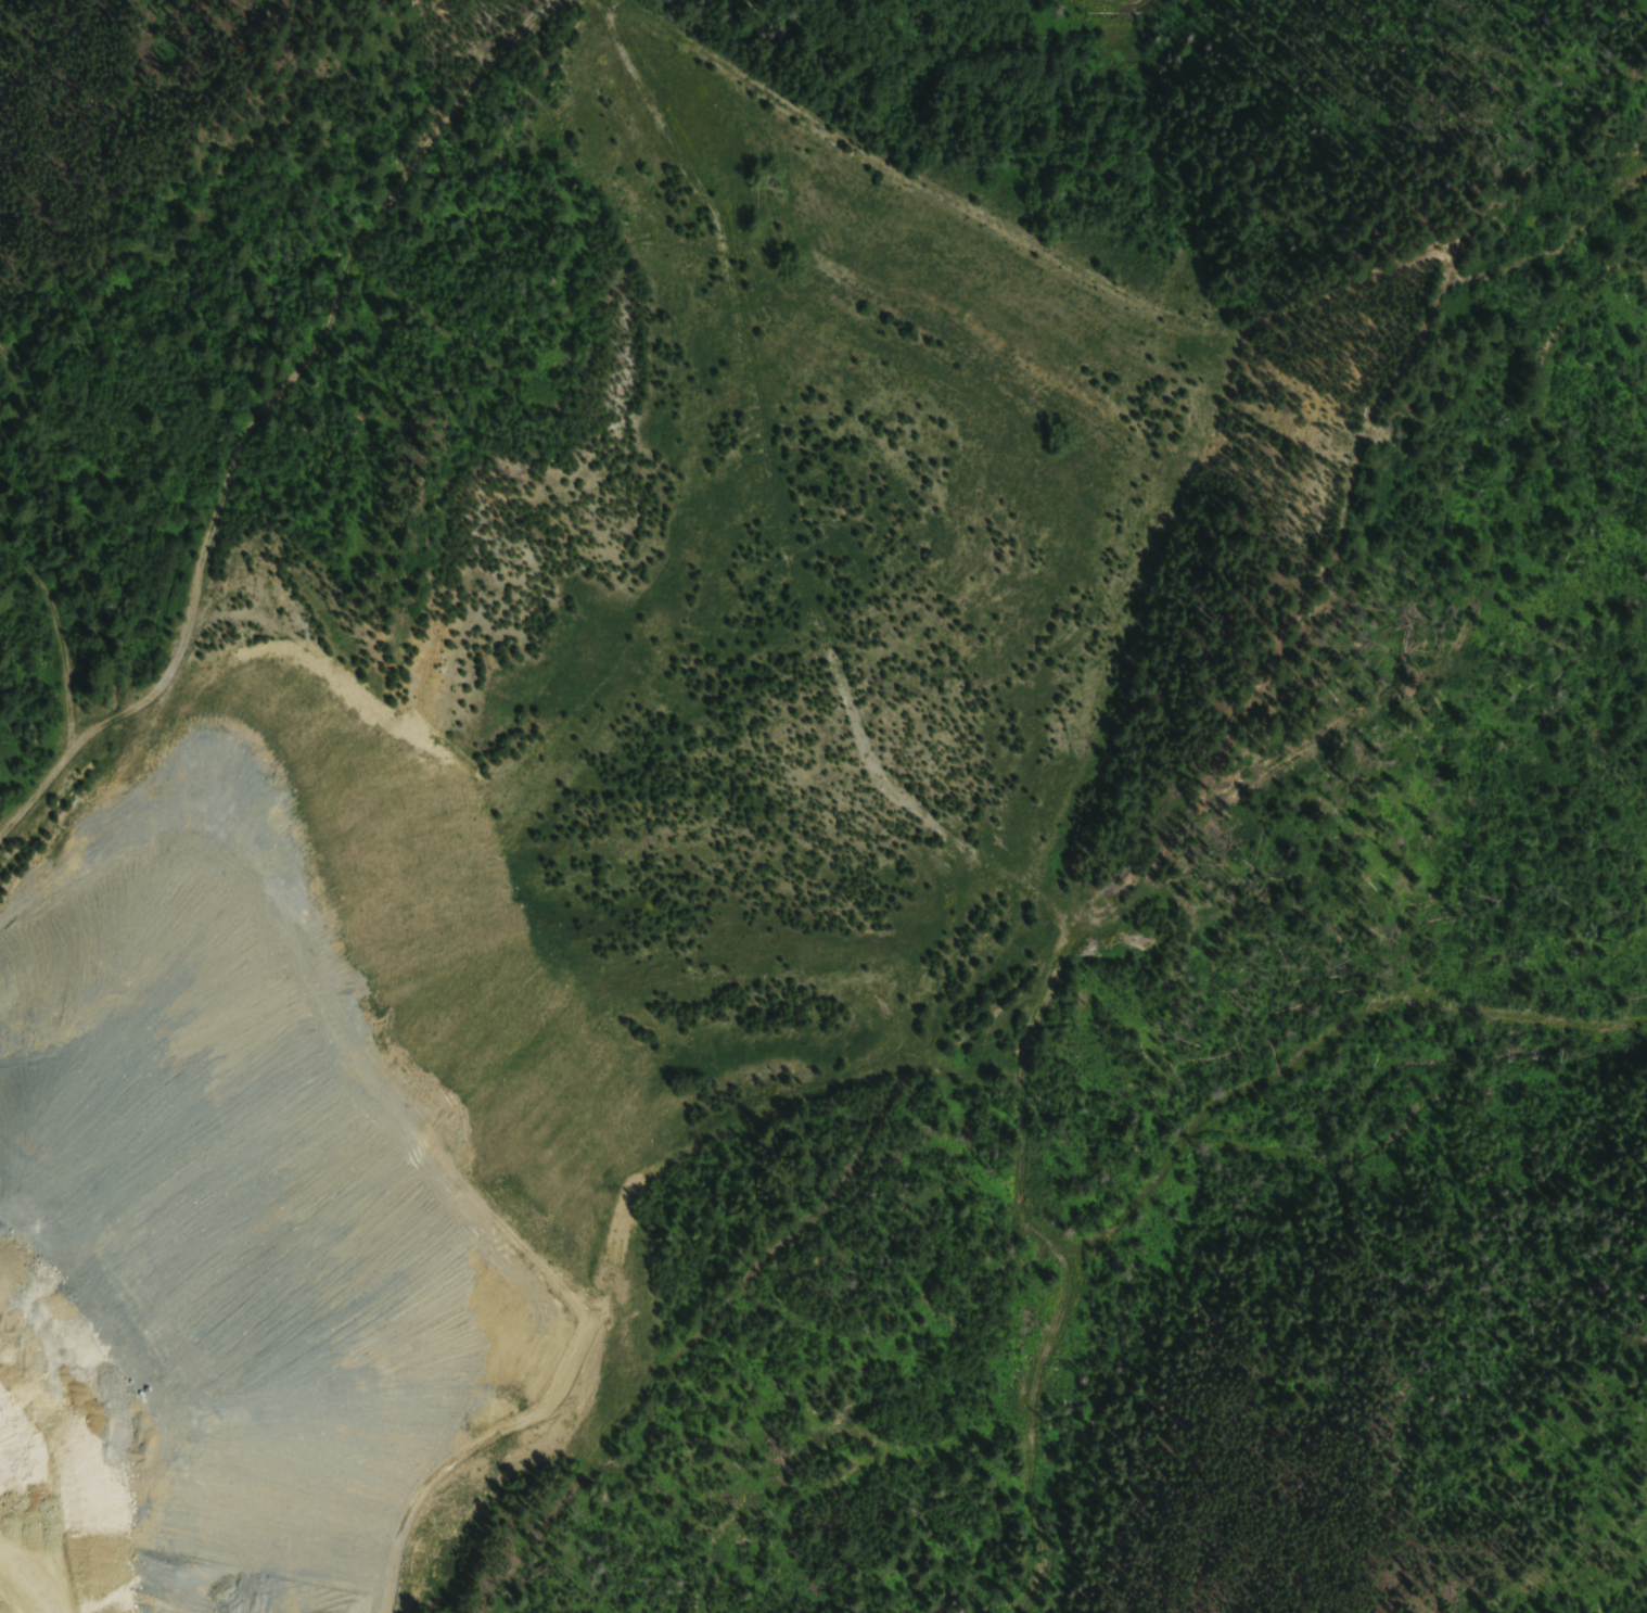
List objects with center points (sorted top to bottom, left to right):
road: (258, 412)
quarry: (560, 854)
road: (212, 1328)

